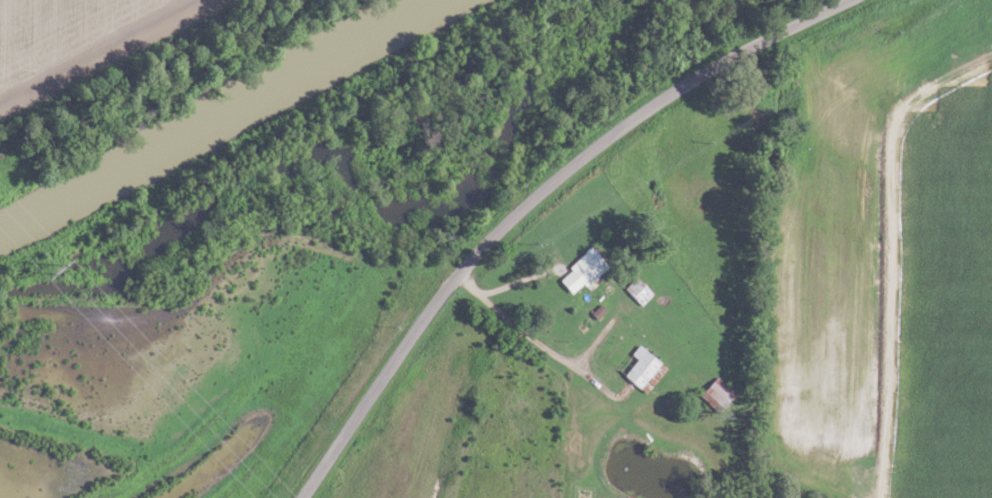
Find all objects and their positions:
road: (538, 202)
power tower: (55, 260)
building: (579, 272)
building: (636, 292)
road: (550, 352)
building: (639, 369)
building: (715, 393)

